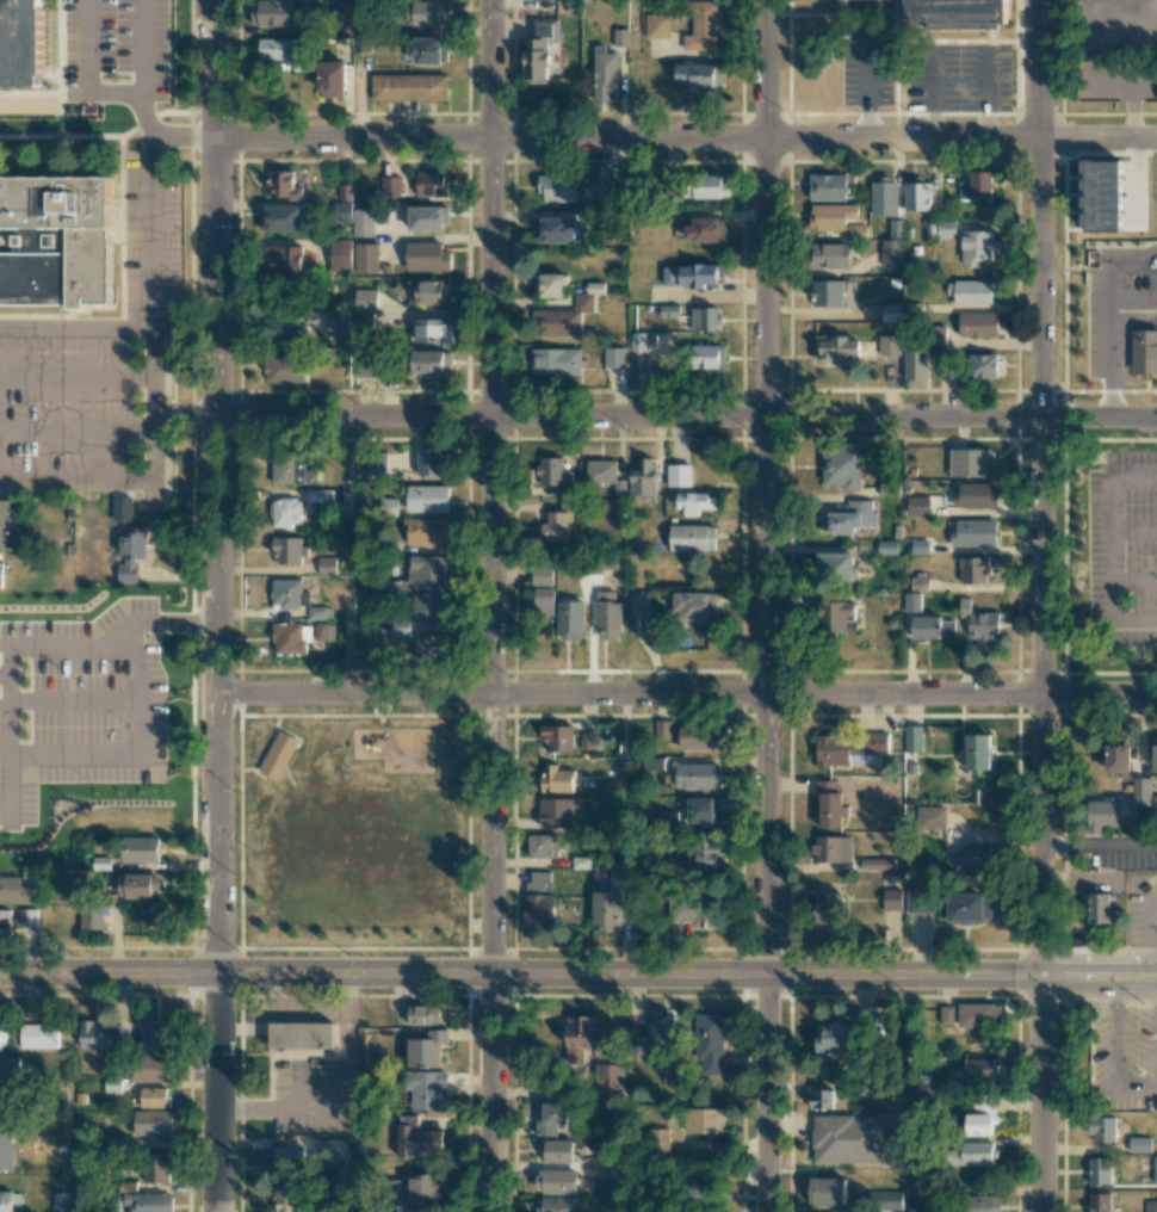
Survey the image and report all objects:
road: (32, 12)
building: (271, 13)
building: (961, 13)
building: (428, 14)
road: (16, 25)
road: (92, 25)
building: (657, 26)
building: (704, 26)
road: (153, 32)
building: (20, 43)
building: (276, 48)
building: (539, 49)
building: (427, 50)
parking lot: (89, 51)
parking lot: (866, 66)
building: (605, 74)
road: (76, 75)
building: (699, 75)
parking lot: (958, 78)
building: (332, 79)
road: (865, 85)
building: (409, 87)
road: (119, 106)
road: (151, 135)
road: (76, 137)
road: (182, 138)
road: (686, 141)
building: (432, 184)
road: (1140, 184)
building: (283, 185)
building: (709, 186)
building: (977, 186)
building: (390, 187)
building: (828, 187)
building: (557, 188)
building: (608, 191)
building: (1103, 194)
building: (884, 197)
building: (916, 197)
building: (831, 216)
building: (279, 218)
building: (427, 218)
building: (363, 222)
building: (896, 228)
building: (940, 229)
building: (555, 230)
building: (705, 230)
building: (57, 243)
road: (6, 245)
parking lot: (150, 246)
building: (977, 247)
road: (153, 248)
building: (891, 253)
building: (340, 255)
building: (831, 255)
building: (427, 256)
building: (366, 258)
building: (281, 260)
road: (1114, 260)
building: (689, 276)
building: (550, 285)
building: (970, 291)
building: (433, 292)
building: (828, 292)
building: (365, 299)
road: (1133, 303)
building: (891, 313)
road: (76, 314)
building: (564, 319)
building: (705, 319)
building: (363, 320)
building: (338, 324)
building: (978, 324)
road: (154, 328)
building: (285, 329)
building: (433, 330)
building: (643, 341)
building: (889, 345)
road: (192, 347)
building: (1145, 348)
building: (834, 350)
building: (706, 355)
building: (614, 357)
building: (432, 361)
building: (556, 361)
road: (1109, 361)
building: (983, 365)
building: (364, 367)
building: (915, 367)
building: (284, 369)
road: (76, 378)
road: (184, 410)
parking lot: (82, 414)
road: (686, 419)
road: (76, 432)
building: (432, 462)
building: (971, 463)
building: (376, 464)
building: (843, 465)
building: (291, 471)
building: (555, 475)
building: (679, 475)
building: (605, 476)
building: (643, 477)
road: (76, 481)
road: (215, 487)
building: (318, 495)
building: (976, 495)
building: (426, 497)
building: (694, 502)
building: (917, 506)
building: (123, 509)
building: (284, 513)
building: (852, 517)
building: (8, 524)
building: (555, 526)
building: (426, 531)
road: (1134, 531)
building: (973, 532)
building: (692, 538)
road: (1113, 545)
building: (917, 546)
building: (887, 548)
building: (287, 550)
building: (131, 555)
building: (836, 565)
building: (326, 567)
building: (975, 569)
building: (421, 573)
building: (2, 574)
building: (540, 575)
road: (1134, 579)
building: (920, 582)
building: (287, 593)
building: (543, 601)
building: (912, 601)
building: (639, 604)
road: (491, 606)
building: (695, 606)
road: (766, 606)
road: (1044, 606)
building: (429, 607)
building: (607, 616)
building: (837, 616)
building: (570, 620)
building: (980, 622)
building: (933, 627)
building: (323, 631)
building: (291, 638)
building: (431, 647)
road: (11, 650)
road: (5, 675)
road: (686, 698)
road: (74, 701)
parking lot: (82, 703)
building: (700, 737)
building: (558, 738)
building: (914, 738)
building: (587, 741)
building: (848, 748)
building: (978, 752)
road: (130, 754)
building: (1155, 754)
building: (278, 755)
building: (1116, 755)
building: (654, 763)
building: (698, 775)
building: (555, 779)
building: (1140, 792)
building: (829, 804)
building: (556, 809)
building: (703, 810)
building: (1105, 812)
building: (928, 817)
park: (353, 835)
road: (1100, 843)
building: (544, 847)
building: (138, 849)
building: (831, 849)
building: (703, 852)
building: (976, 857)
building: (877, 864)
building: (618, 871)
road: (1083, 882)
building: (137, 885)
building: (17, 891)
building: (892, 897)
building: (540, 899)
building: (918, 901)
building: (965, 907)
building: (829, 908)
building: (1102, 908)
building: (697, 910)
building: (606, 911)
building: (5, 922)
building: (29, 922)
road: (1155, 934)
road: (578, 976)
road: (1118, 990)
building: (946, 1014)
building: (422, 1015)
building: (979, 1015)
building: (662, 1026)
building: (2, 1031)
building: (586, 1033)
building: (100, 1035)
building: (38, 1037)
building: (157, 1037)
building: (835, 1038)
building: (302, 1039)
building: (709, 1044)
building: (639, 1045)
road: (1115, 1046)
building: (426, 1050)
building: (10, 1068)
building: (151, 1068)
parking lot: (308, 1068)
building: (978, 1070)
building: (610, 1082)
building: (112, 1086)
road: (1078, 1088)
road: (1136, 1088)
building: (426, 1089)
road: (216, 1093)
building: (1, 1094)
building: (154, 1097)
building: (821, 1099)
building: (982, 1105)
building: (551, 1118)
building: (704, 1120)
building: (151, 1123)
building: (979, 1124)
building: (1102, 1128)
building: (416, 1138)
building: (658, 1139)
building: (848, 1139)
building: (1139, 1144)
building: (6, 1148)
building: (335, 1150)
building: (556, 1151)
building: (973, 1152)
building: (289, 1158)
building: (156, 1168)
building: (1155, 1169)
building: (1099, 1170)
building: (555, 1181)
building: (912, 1183)
building: (421, 1187)
building: (703, 1188)
building: (827, 1192)
building: (287, 1198)
building: (146, 1199)
building: (884, 1200)
building: (10, 1201)
building: (61, 1201)
building: (1100, 1202)
building: (552, 1204)
building: (985, 1204)
building: (910, 1206)
building: (1150, 1206)

